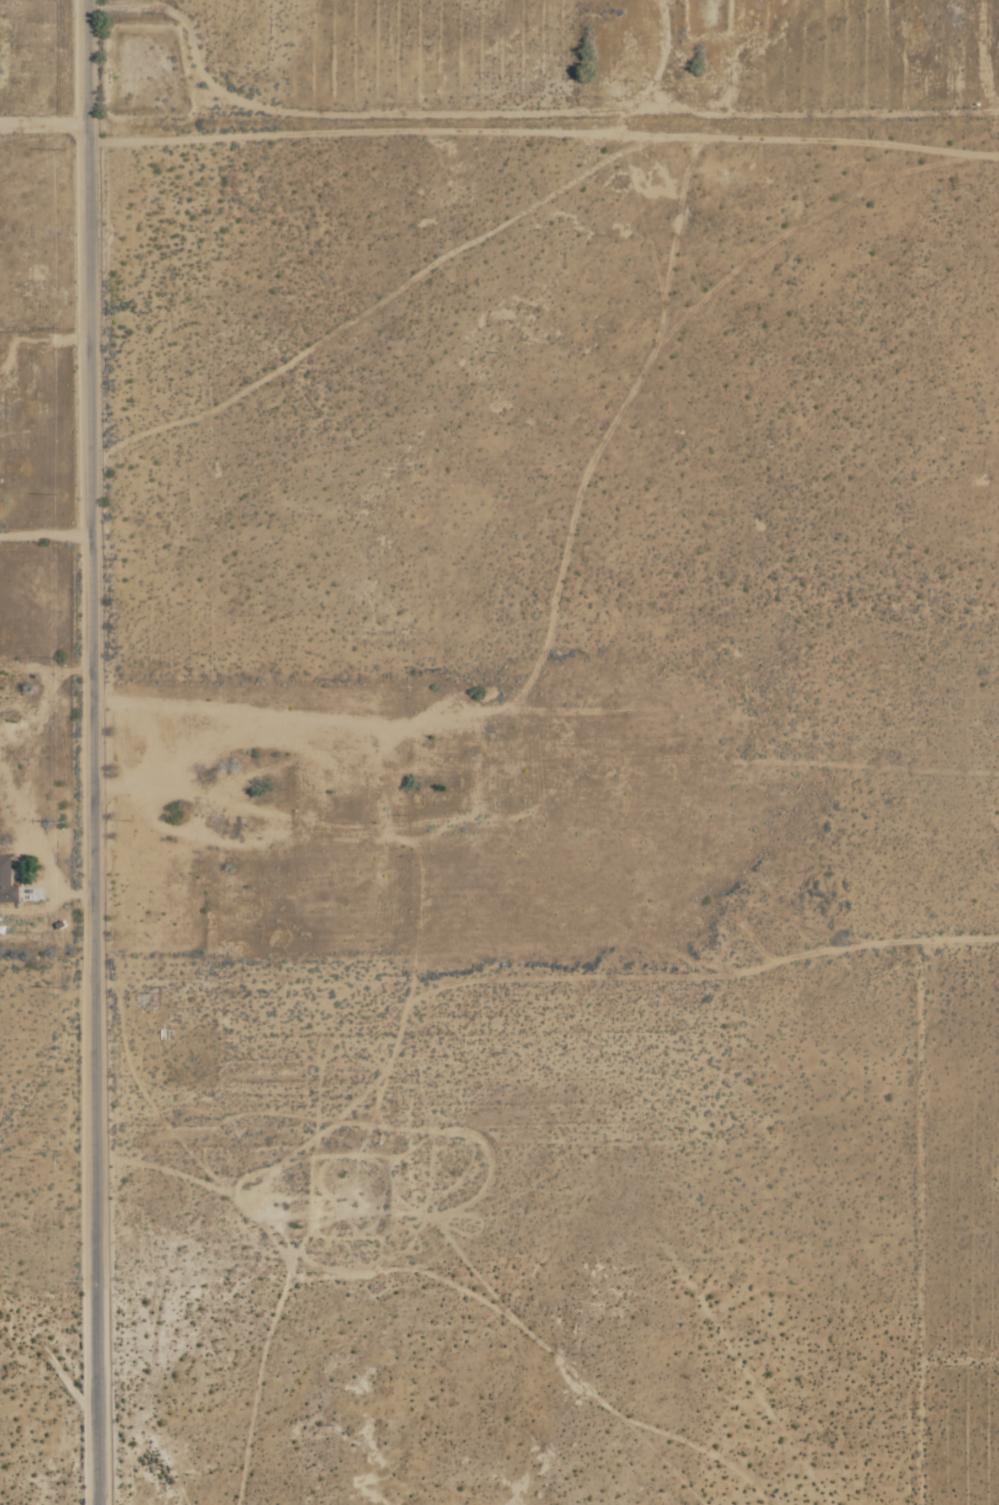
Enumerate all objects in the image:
road: (45, 129)
road: (45, 534)
road: (87, 752)
building: (8, 881)

